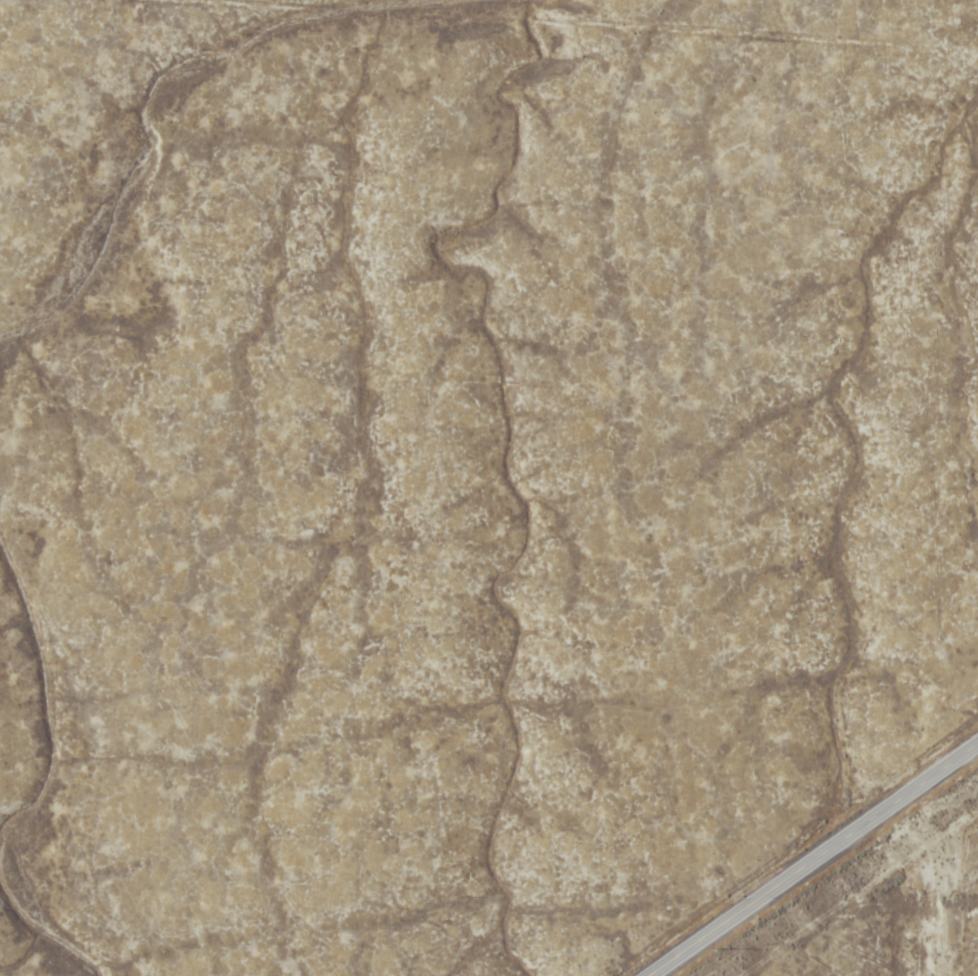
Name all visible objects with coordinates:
road: (813, 859)

